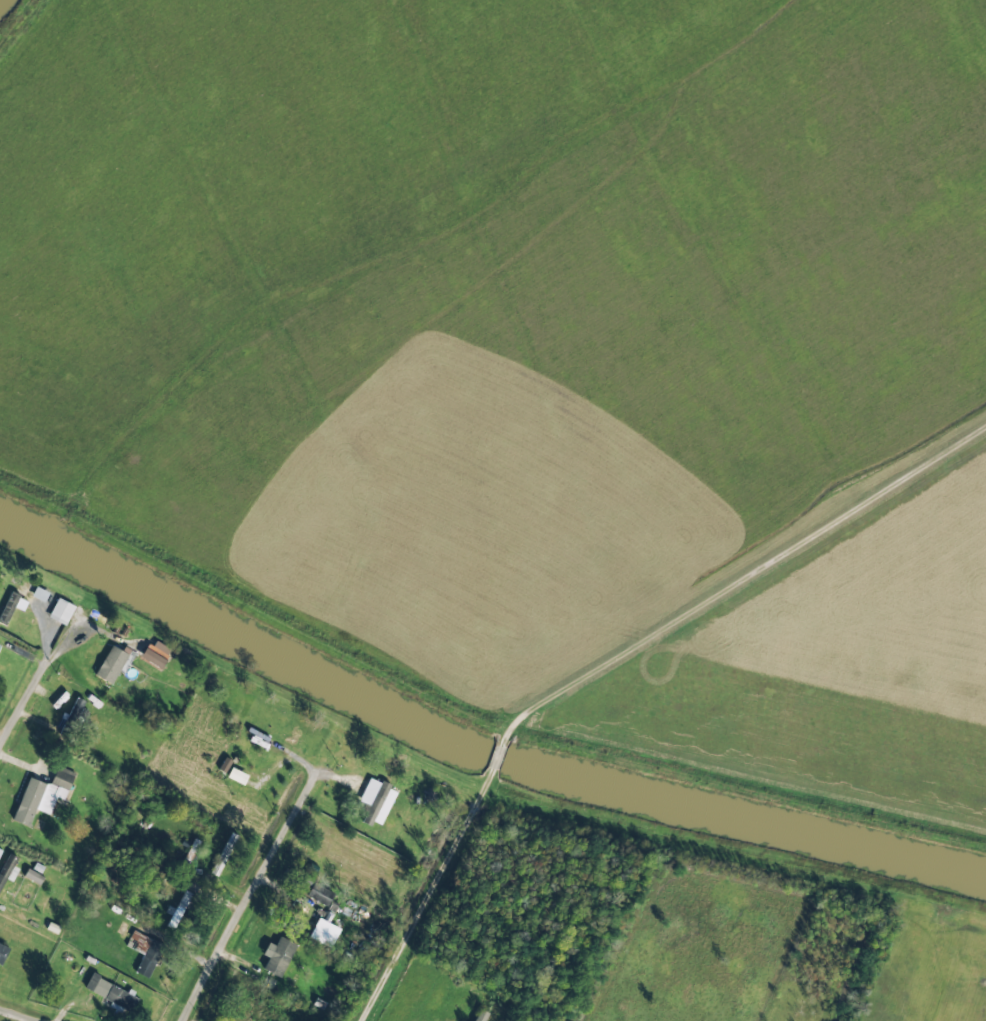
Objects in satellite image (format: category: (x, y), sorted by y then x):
building: (40, 594)
building: (8, 607)
building: (61, 611)
building: (154, 656)
building: (111, 664)
road: (30, 692)
building: (73, 718)
building: (237, 776)
building: (42, 795)
building: (376, 801)
building: (0, 851)
building: (224, 854)
building: (8, 869)
building: (34, 876)
road: (253, 892)
building: (316, 892)
building: (179, 909)
building: (3, 952)
building: (145, 952)
building: (278, 956)
building: (111, 993)
road: (18, 1015)
building: (481, 1015)

